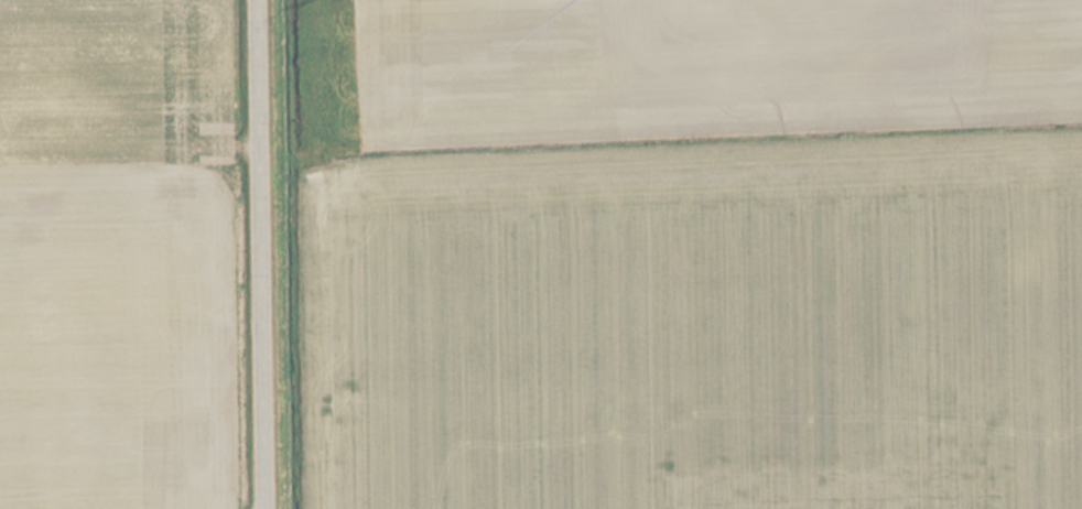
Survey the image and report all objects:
road: (272, 254)

